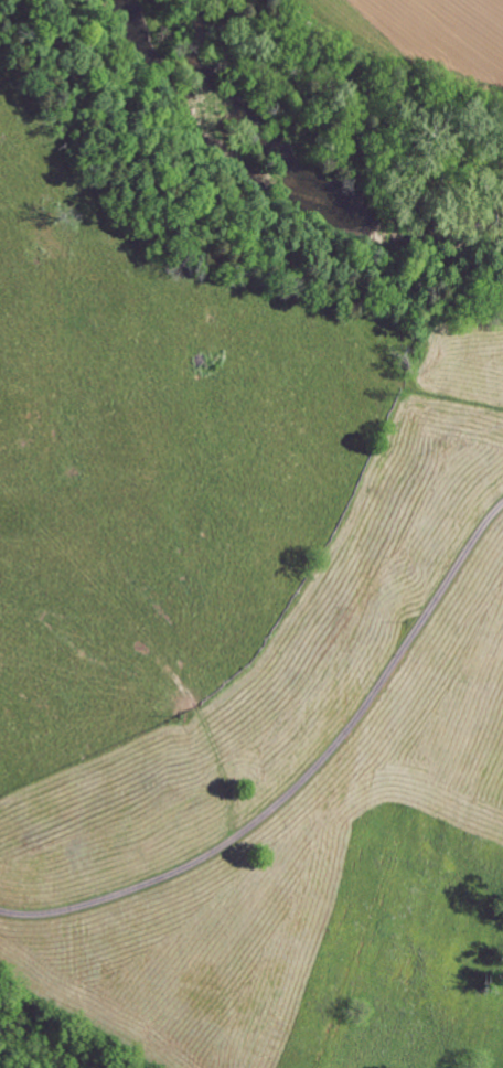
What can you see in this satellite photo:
river: (287, 159)
road: (302, 779)

